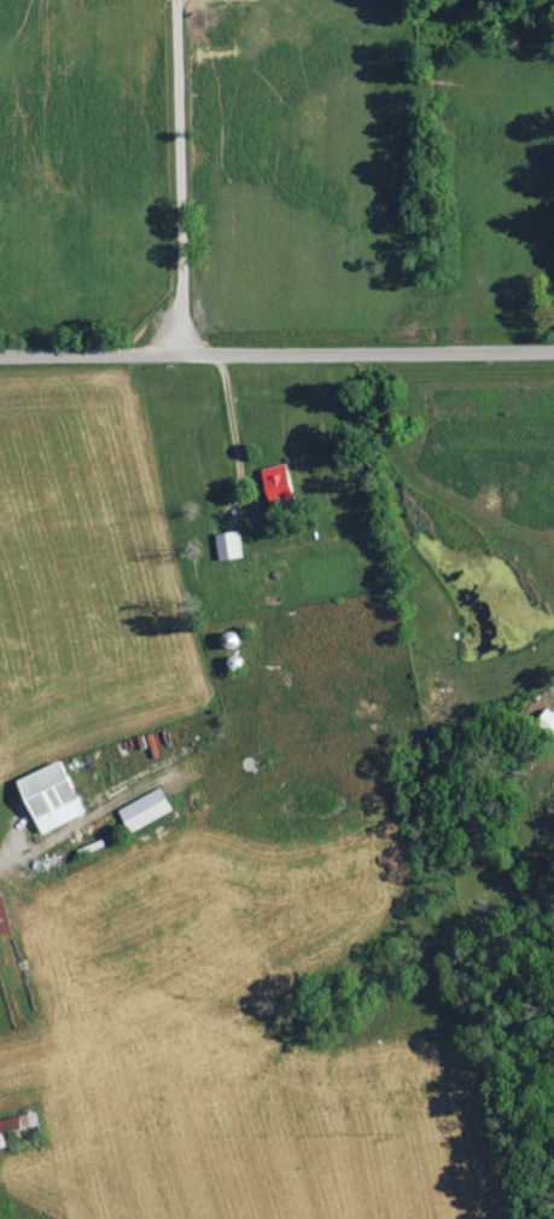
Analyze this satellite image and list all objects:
road: (181, 176)
road: (276, 353)
road: (235, 426)
building: (275, 488)
building: (226, 544)
building: (544, 720)
building: (47, 795)
building: (142, 808)
road: (10, 854)
building: (2, 919)
building: (16, 1122)

